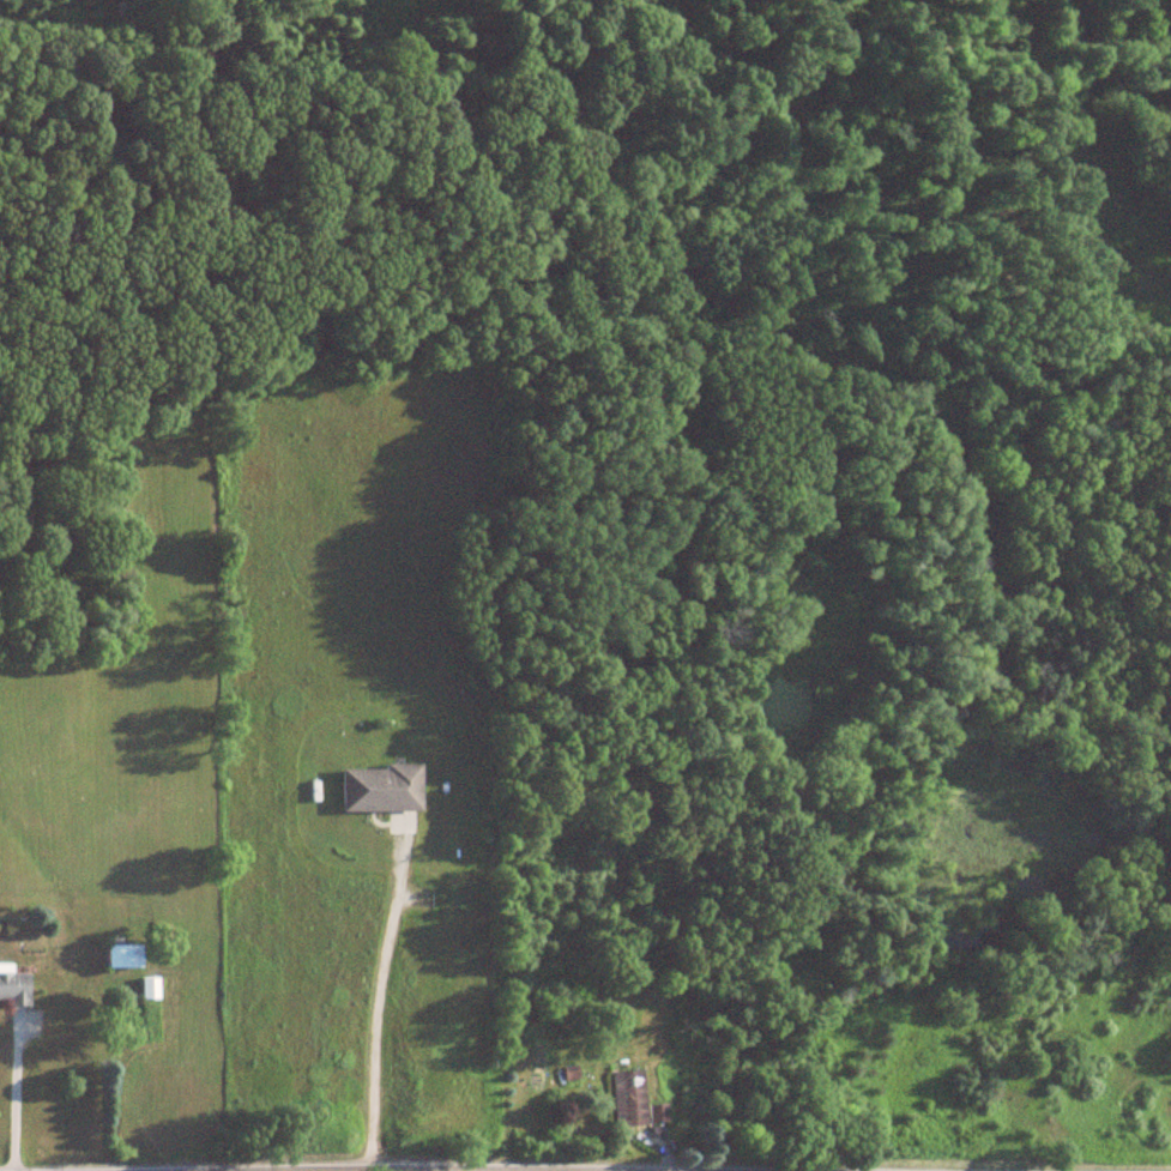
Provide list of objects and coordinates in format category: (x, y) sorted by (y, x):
building: (378, 789)
building: (121, 955)
building: (13, 988)
building: (149, 988)
road: (375, 1001)
road: (13, 1095)
building: (626, 1098)
building: (654, 1112)

